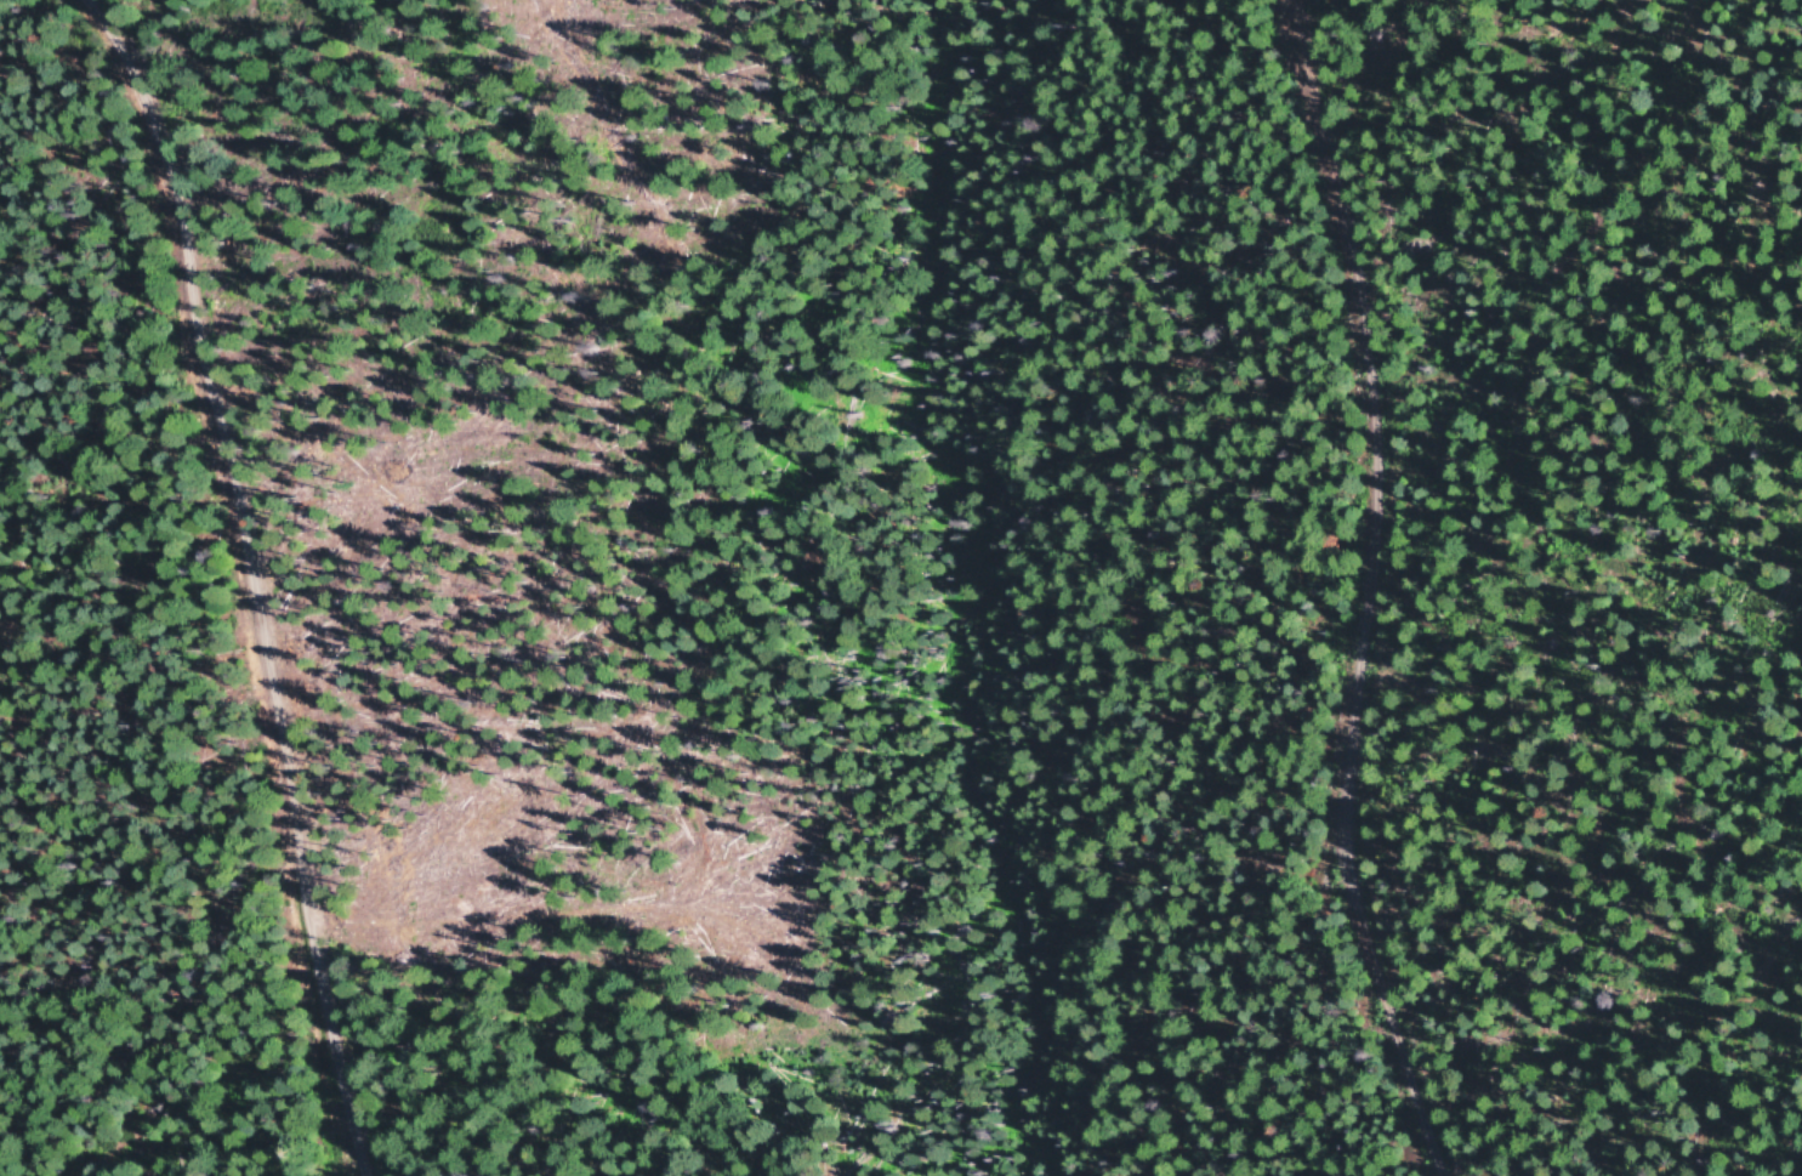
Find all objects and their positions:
road: (272, 569)
road: (1378, 585)

